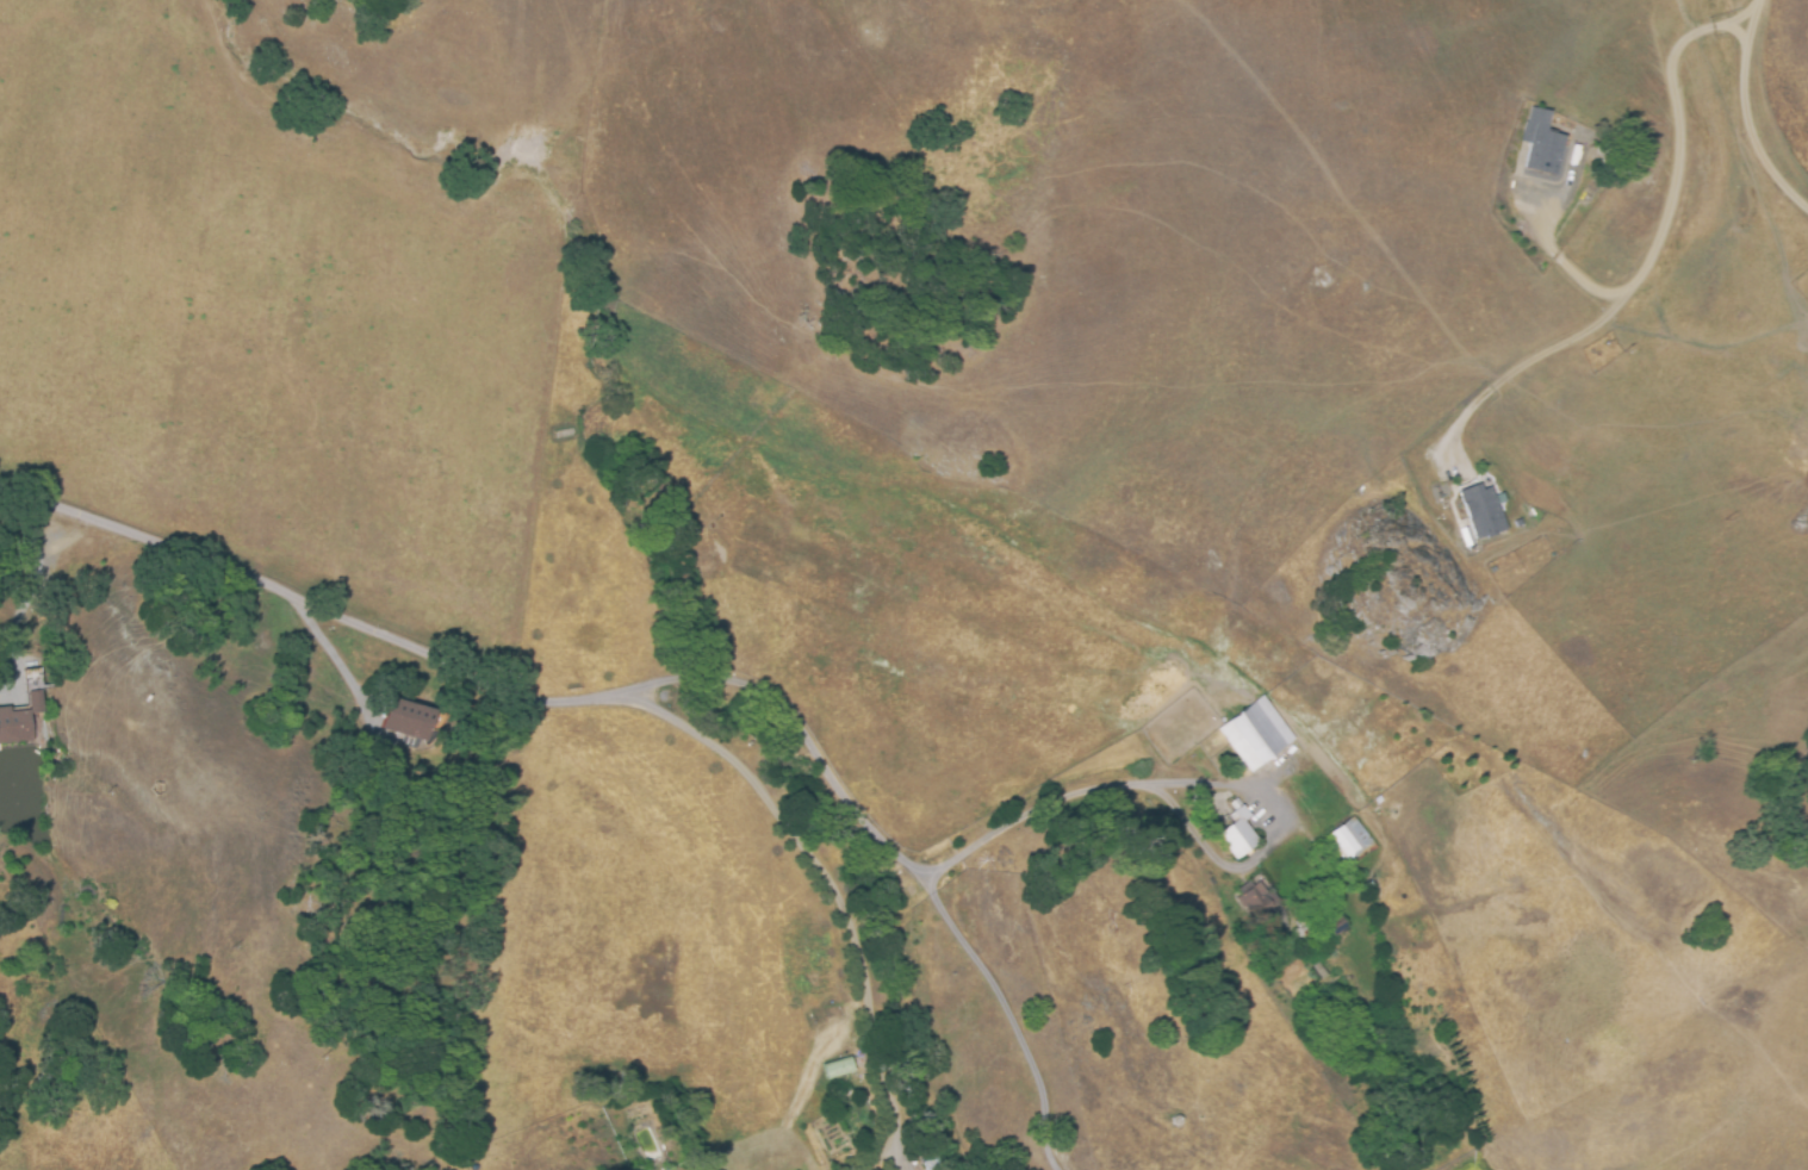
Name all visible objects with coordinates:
road: (1746, 113)
building: (1541, 142)
road: (1653, 245)
road: (1559, 262)
building: (1484, 511)
road: (30, 591)
road: (310, 610)
road: (325, 651)
building: (20, 720)
building: (409, 720)
building: (1257, 735)
building: (1239, 839)
building: (1350, 839)
road: (911, 871)
road: (831, 890)
building: (1254, 900)
building: (839, 1068)
building: (930, 1164)

